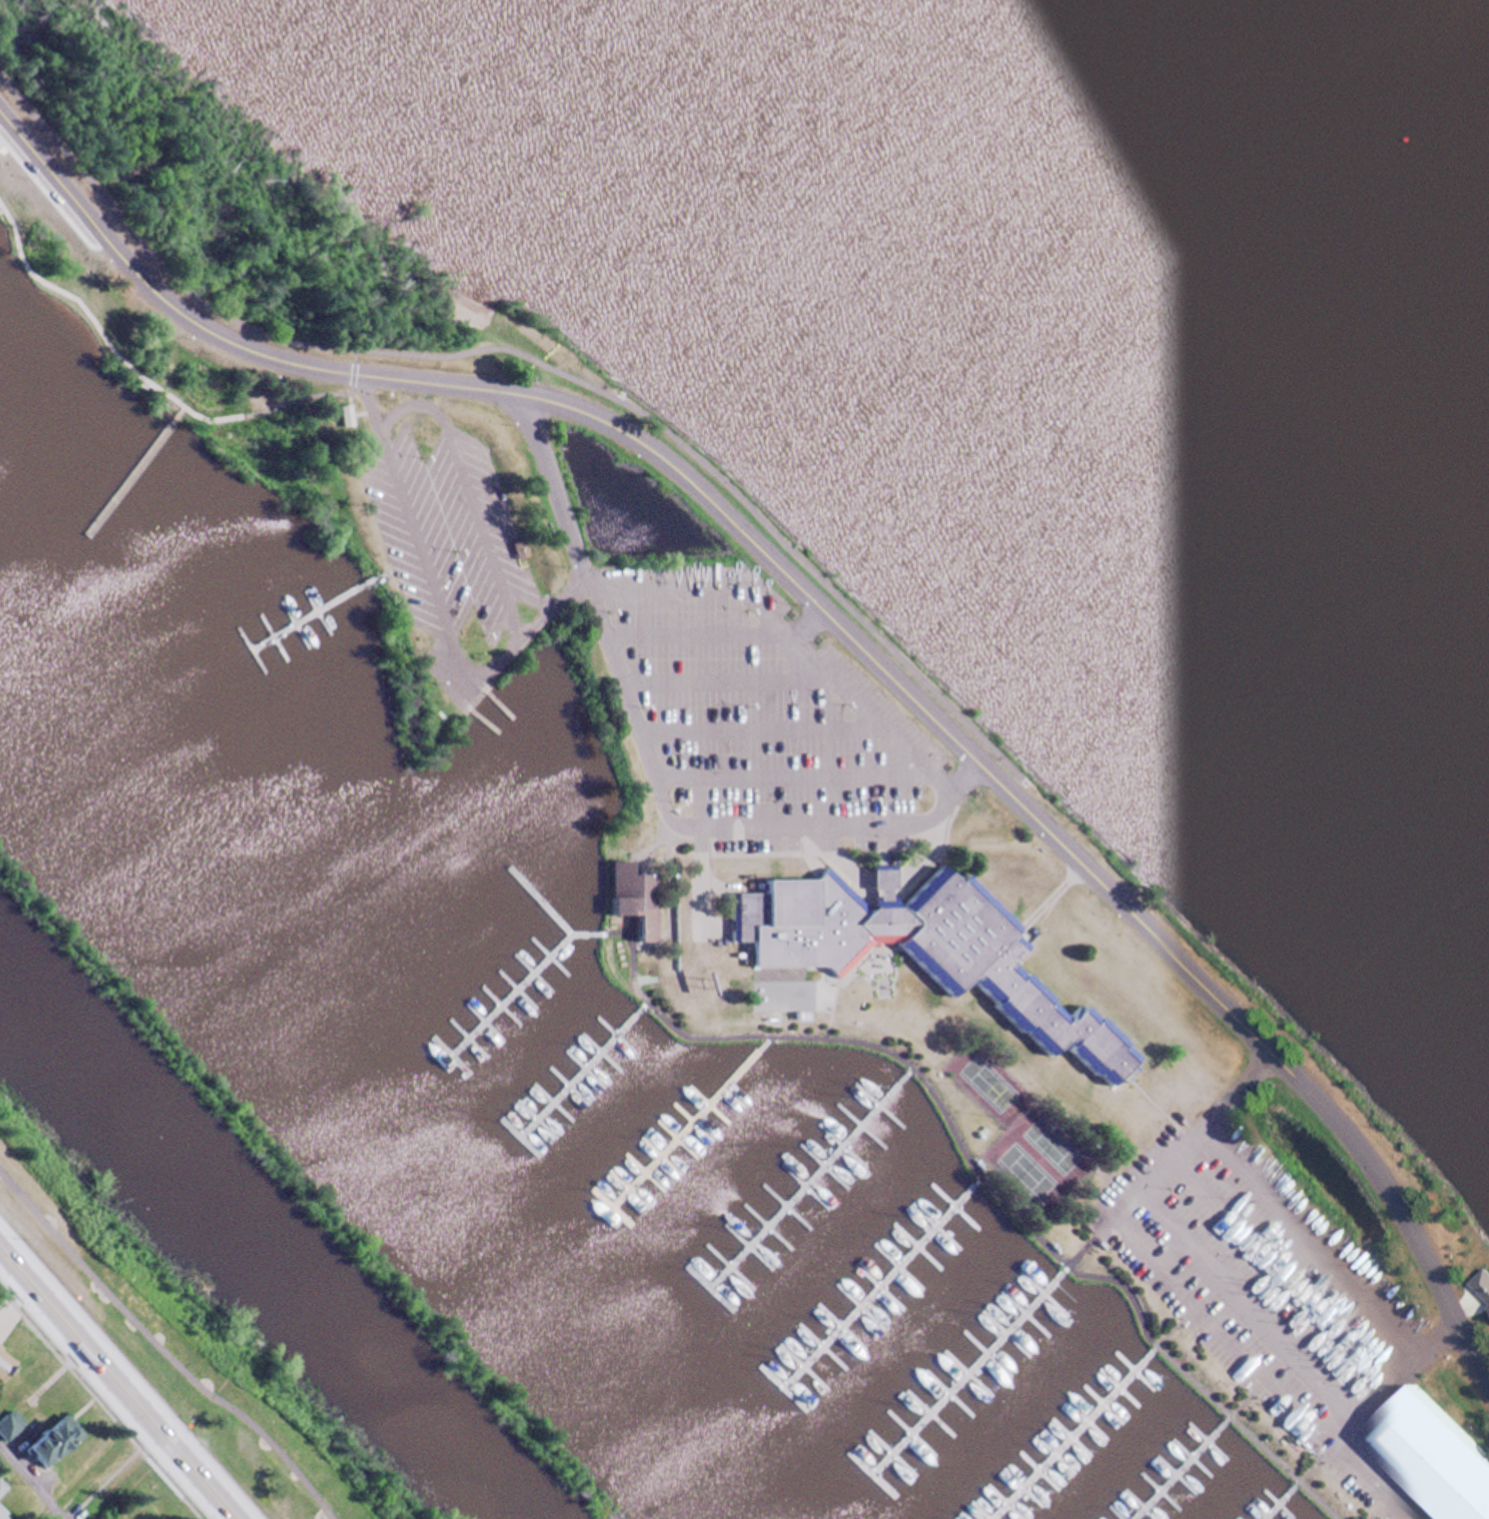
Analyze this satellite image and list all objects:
road: (10, 149)
parking lot: (5, 160)
road: (8, 227)
road: (532, 359)
road: (352, 361)
road: (147, 381)
road: (361, 412)
building: (344, 414)
road: (466, 490)
parking lot: (443, 532)
road: (415, 546)
road: (385, 571)
building: (641, 602)
road: (835, 616)
pier: (298, 619)
road: (799, 627)
road: (523, 630)
road: (702, 630)
road: (733, 680)
parking lot: (759, 712)
road: (763, 729)
park: (756, 753)
road: (647, 762)
road: (793, 776)
road: (652, 840)
road: (930, 850)
road: (766, 853)
road: (936, 853)
road: (840, 858)
road: (667, 859)
road: (812, 864)
building: (885, 881)
road: (728, 885)
road: (700, 890)
building: (634, 895)
road: (1050, 897)
pier: (538, 899)
pier: (582, 932)
road: (612, 933)
road: (661, 937)
road: (820, 967)
road: (839, 976)
building: (1002, 977)
pier: (509, 992)
road: (642, 1007)
road: (765, 1041)
road: (908, 1070)
pier: (579, 1073)
park: (988, 1082)
road: (1156, 1107)
pier: (685, 1125)
park: (1050, 1142)
park: (1023, 1171)
road: (978, 1174)
pier: (805, 1180)
road: (975, 1181)
road: (1313, 1238)
road: (1085, 1245)
road: (1284, 1267)
pier: (874, 1285)
parking lot: (1268, 1286)
road: (1184, 1287)
road: (1251, 1300)
road: (10, 1307)
road: (1173, 1326)
park: (194, 1349)
road: (160, 1350)
road: (126, 1374)
pier: (966, 1374)
road: (1397, 1378)
road: (112, 1391)
road: (1245, 1396)
road: (102, 1403)
pier: (1069, 1436)
building: (1427, 1459)
road: (1313, 1463)
pier: (1176, 1471)
park: (113, 1478)
road: (112, 1479)
road: (33, 1480)
pier: (1275, 1504)
road: (1383, 1506)
road: (76, 1515)
railway: (613, 1516)

